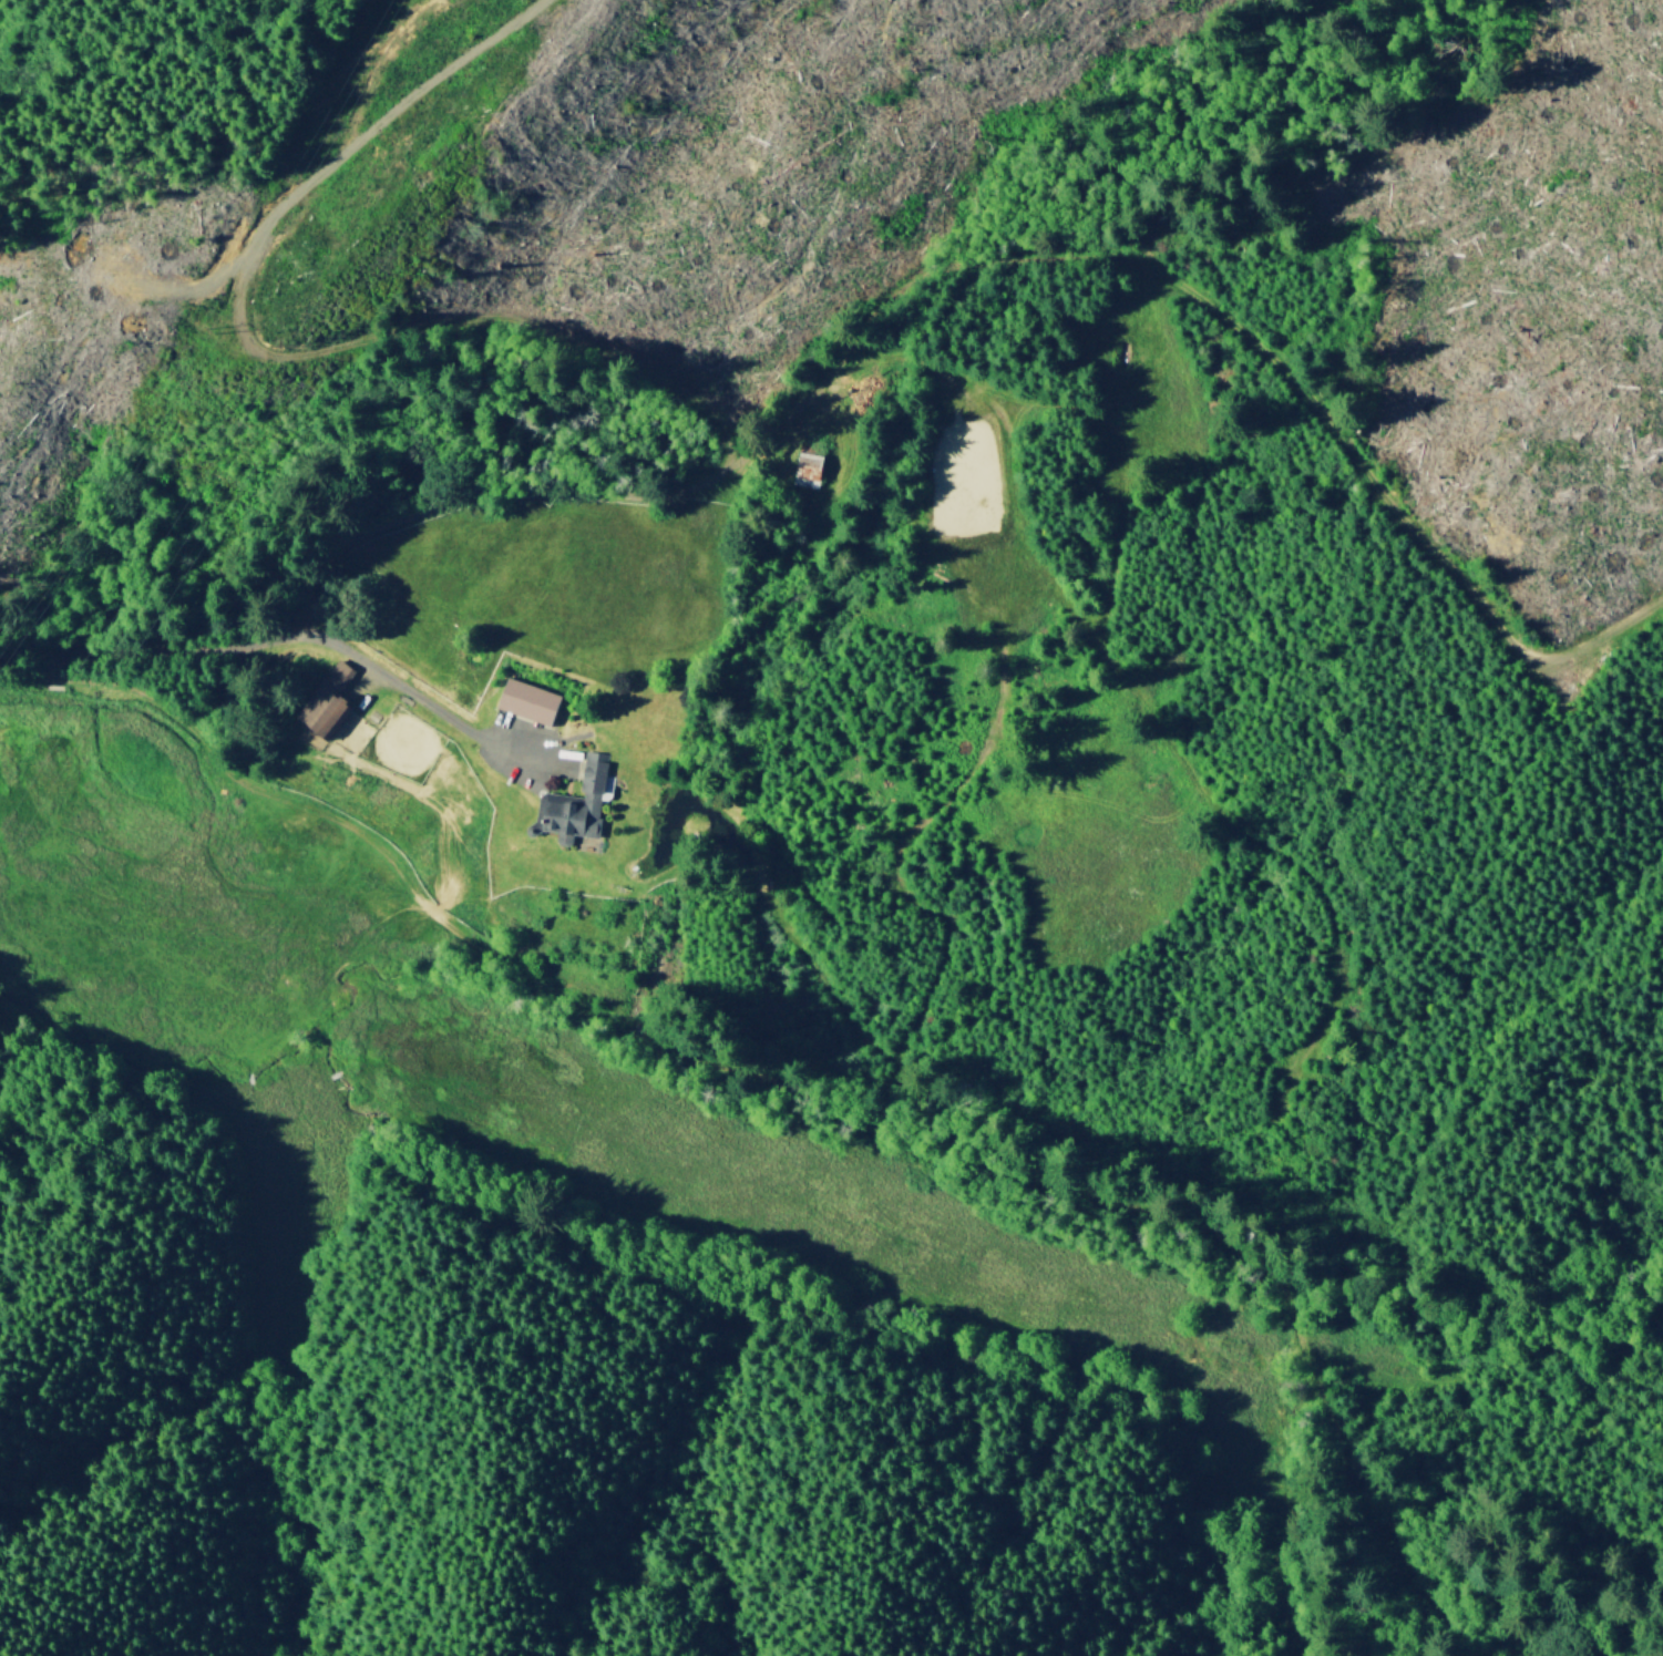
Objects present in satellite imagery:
power tower: (203, 327)
building: (809, 469)
road: (257, 641)
building: (326, 701)
building: (527, 701)
building: (576, 802)

